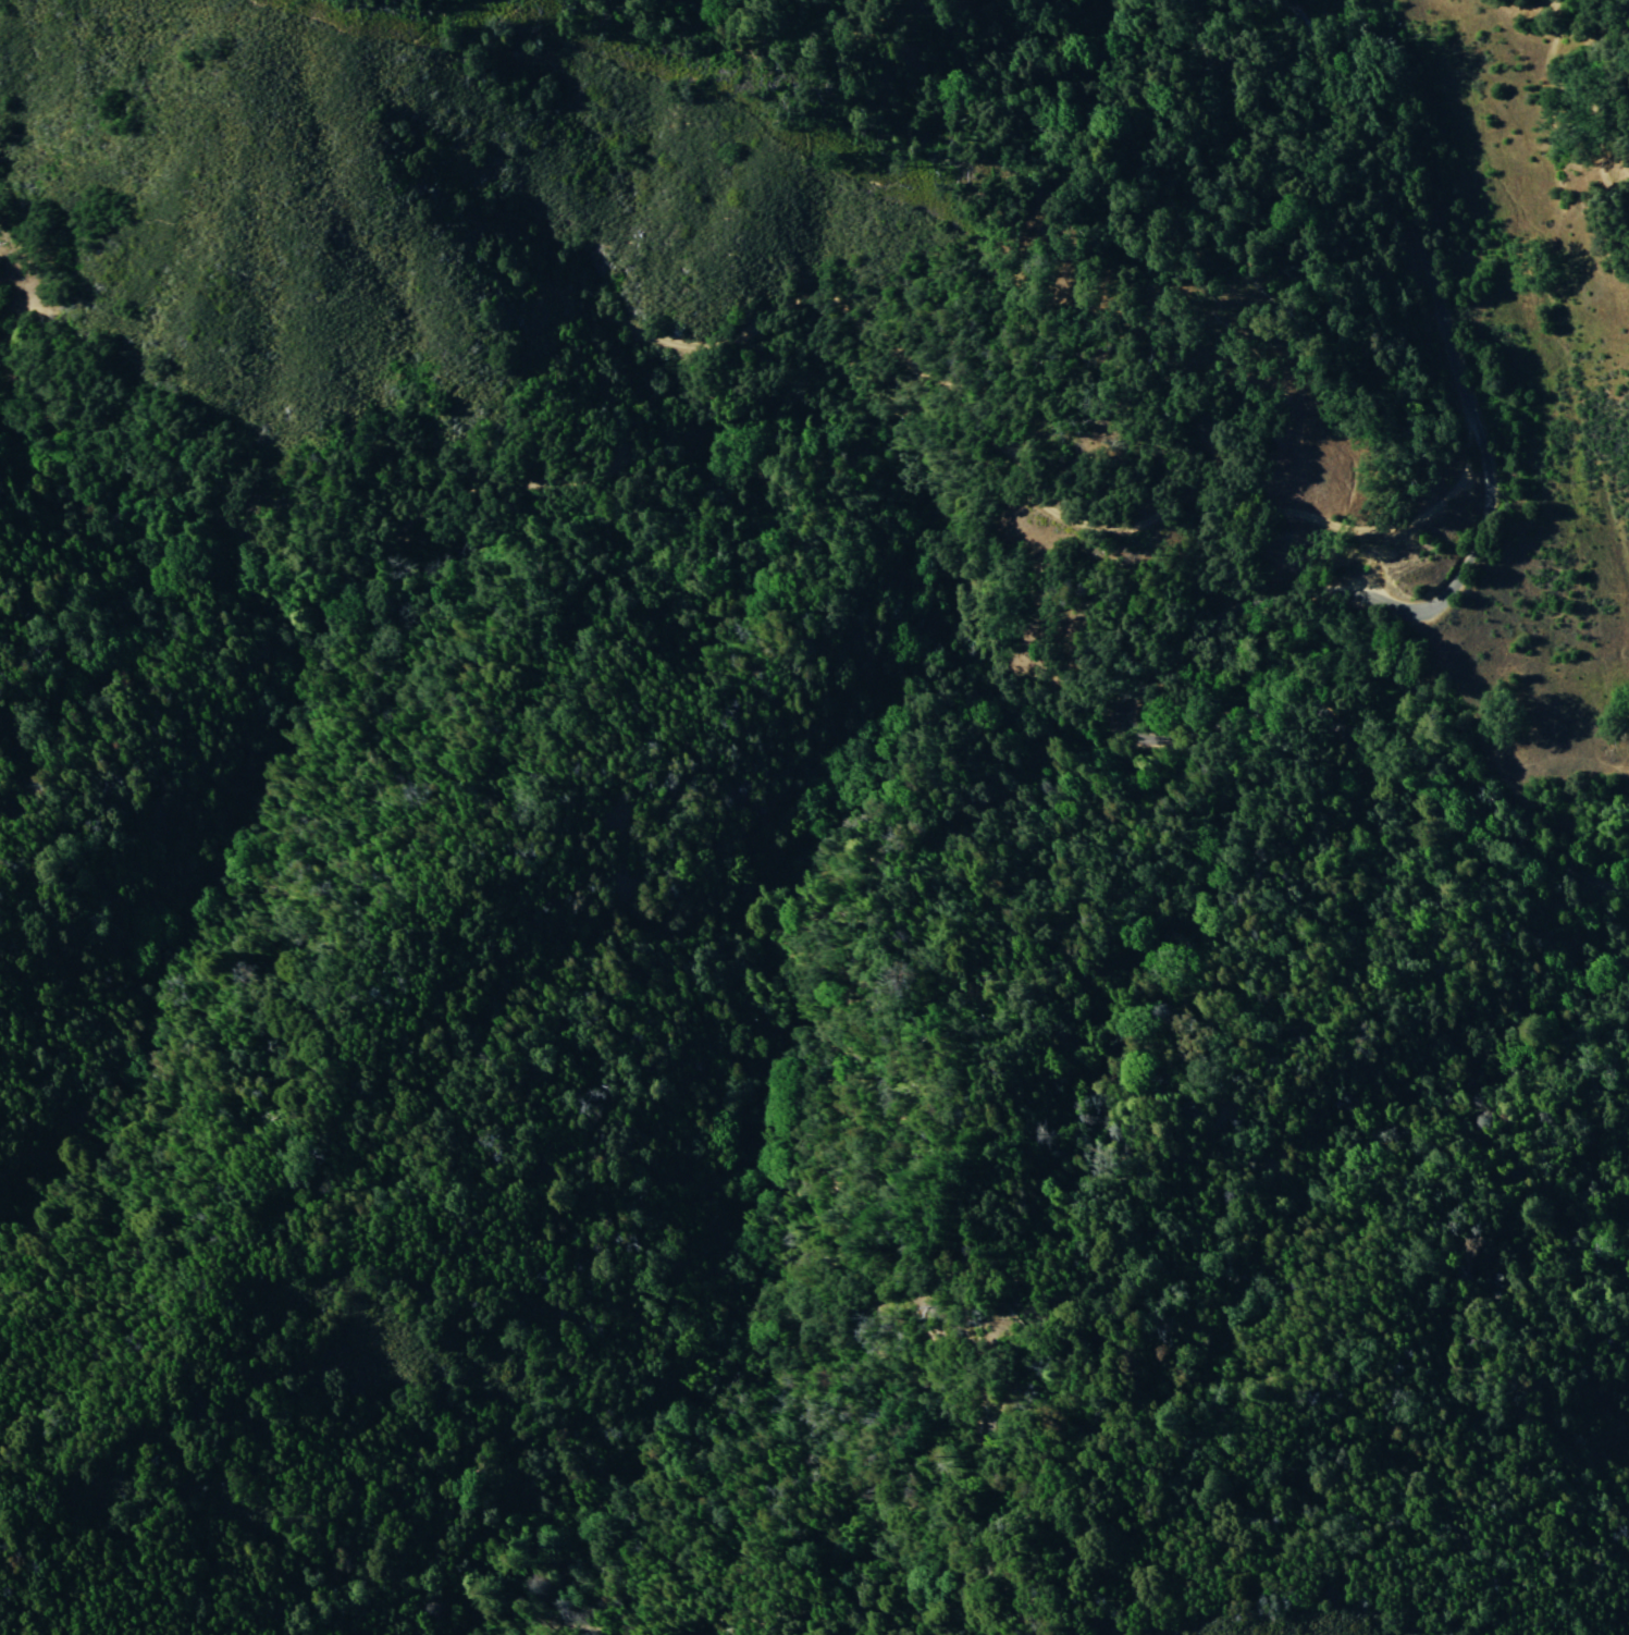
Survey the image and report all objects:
road: (1287, 594)

